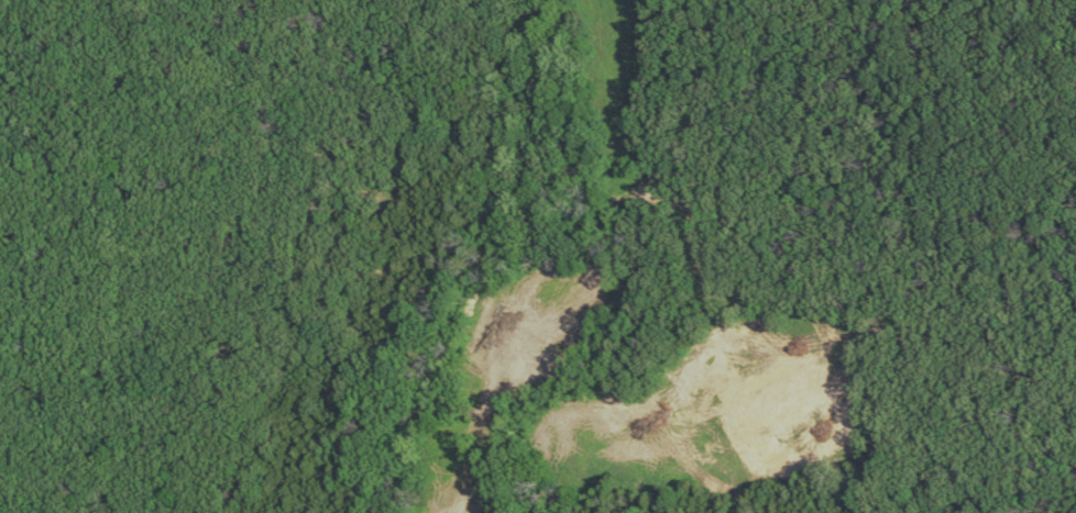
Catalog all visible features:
road: (858, 295)

